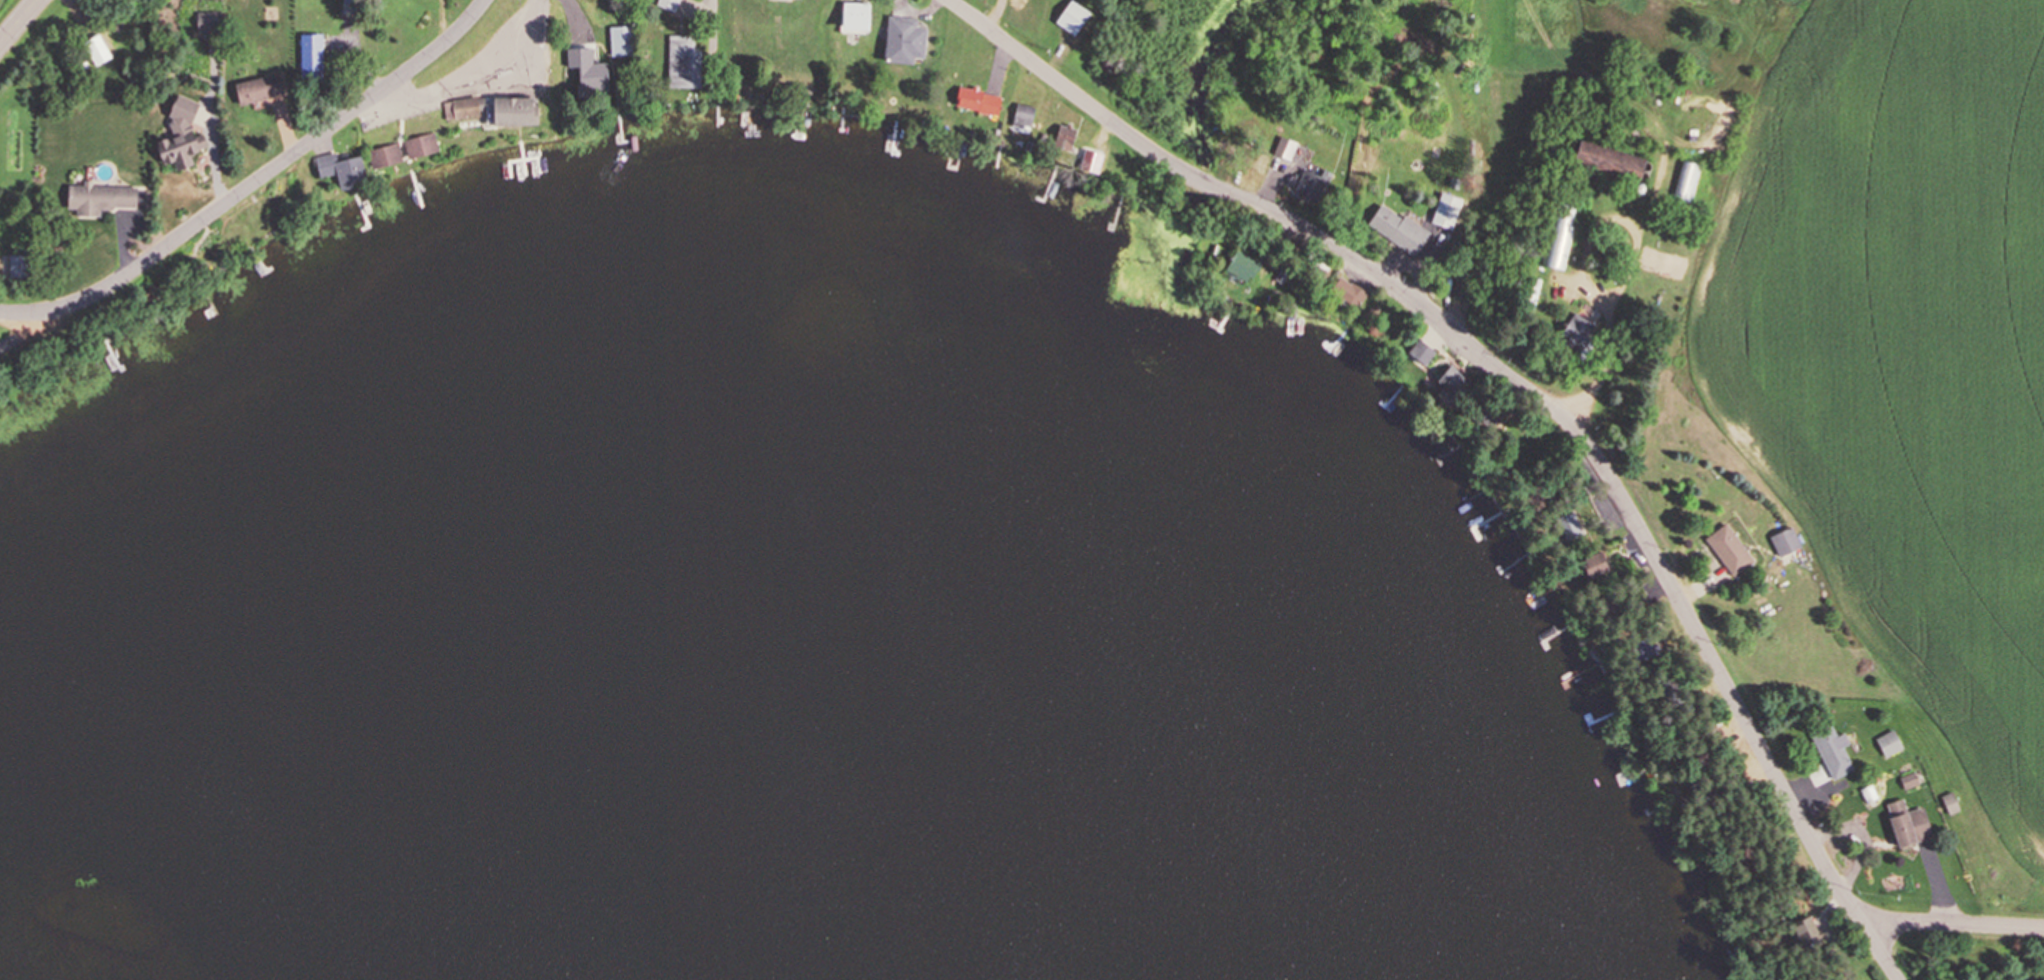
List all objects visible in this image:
building: (668, 4)
building: (1072, 17)
road: (19, 22)
building: (205, 23)
building: (902, 40)
building: (620, 41)
building: (95, 50)
building: (310, 55)
building: (595, 62)
building: (682, 63)
building: (257, 89)
building: (976, 100)
building: (462, 107)
building: (508, 111)
building: (1022, 117)
building: (179, 137)
building: (418, 145)
building: (1284, 148)
building: (383, 155)
building: (1605, 160)
building: (340, 168)
road: (253, 180)
building: (1685, 181)
building: (1310, 184)
building: (97, 199)
building: (1446, 211)
building: (1397, 230)
building: (1558, 236)
building: (17, 266)
building: (1241, 266)
building: (1460, 290)
building: (1354, 296)
road: (32, 330)
building: (1576, 331)
building: (1420, 353)
building: (1451, 383)
road: (1531, 389)
building: (1568, 522)
building: (1784, 541)
building: (1728, 550)
building: (1592, 567)
building: (1888, 744)
building: (1832, 752)
building: (1907, 781)
building: (1907, 825)
road: (1956, 922)
building: (1802, 927)

